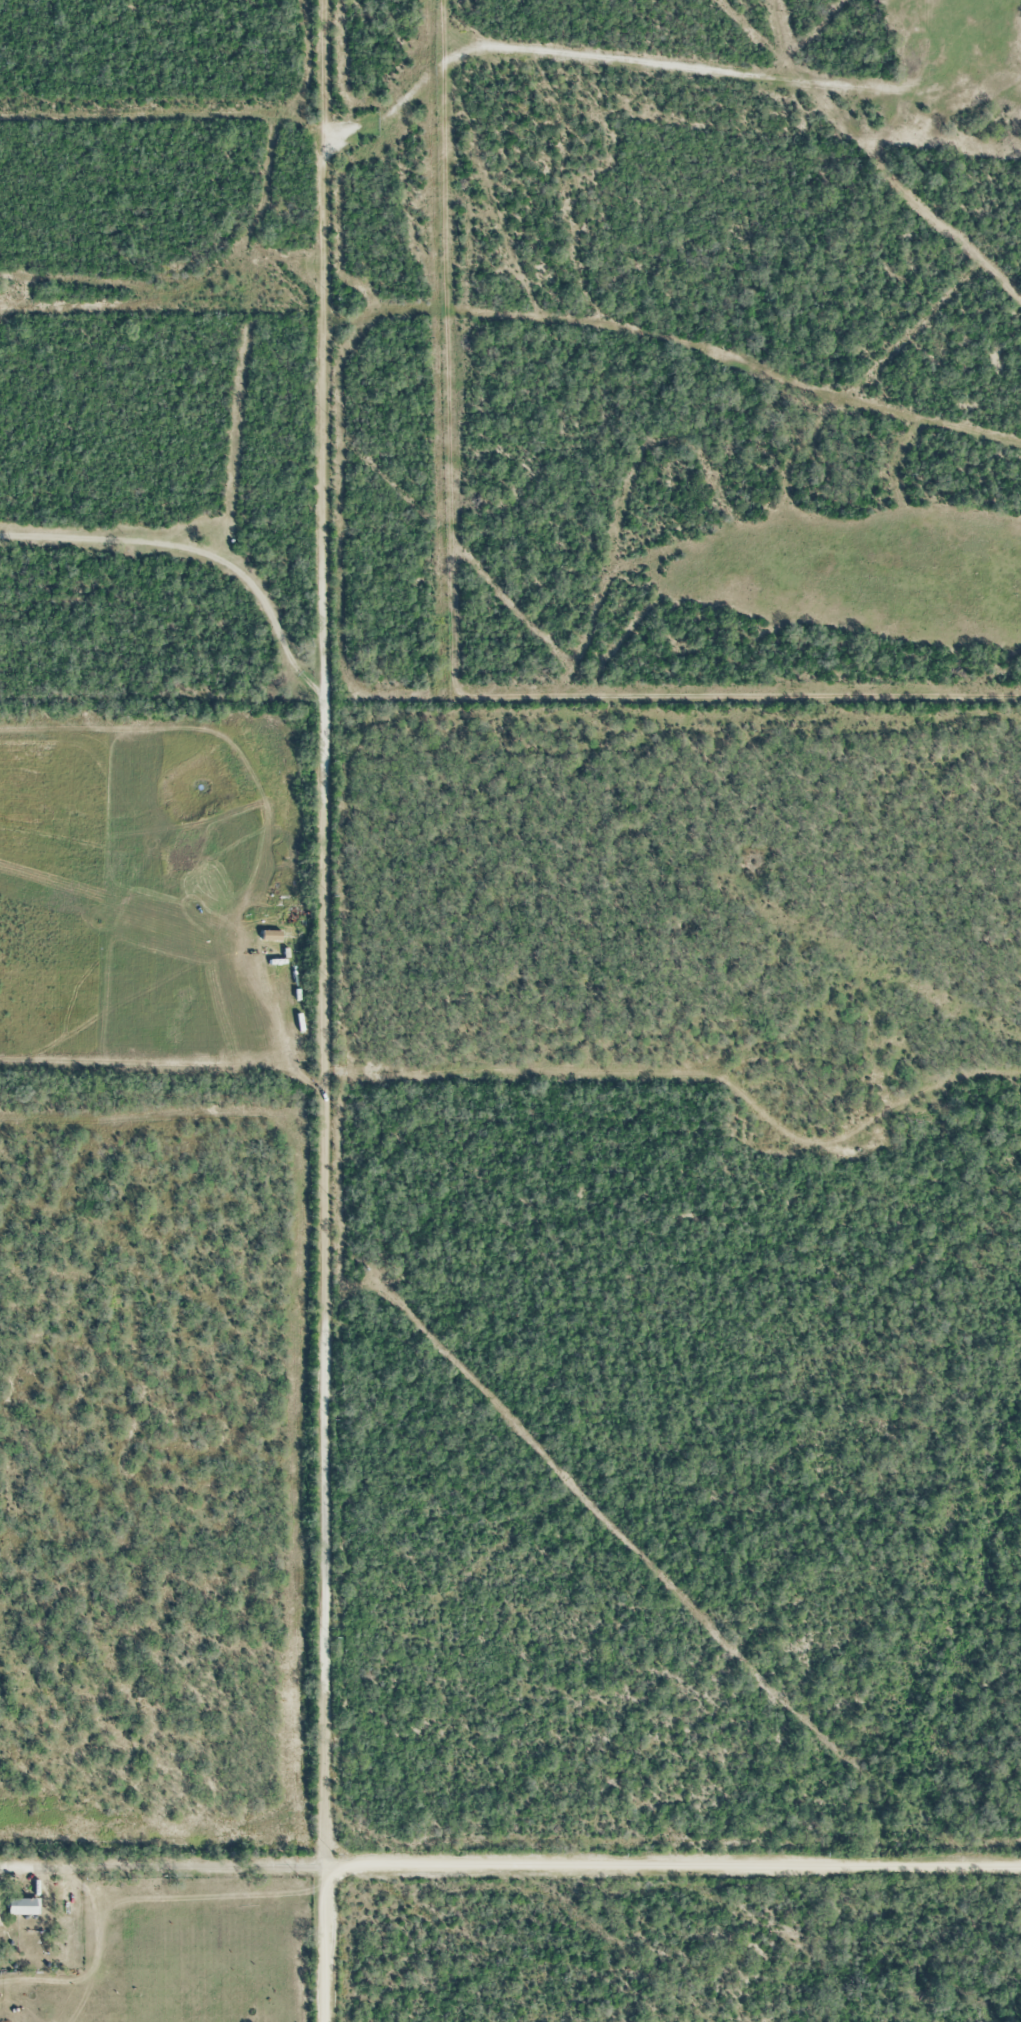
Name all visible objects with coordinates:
road: (322, 68)
building: (295, 917)
road: (320, 1079)
road: (670, 1866)
road: (187, 1868)
building: (21, 1904)

